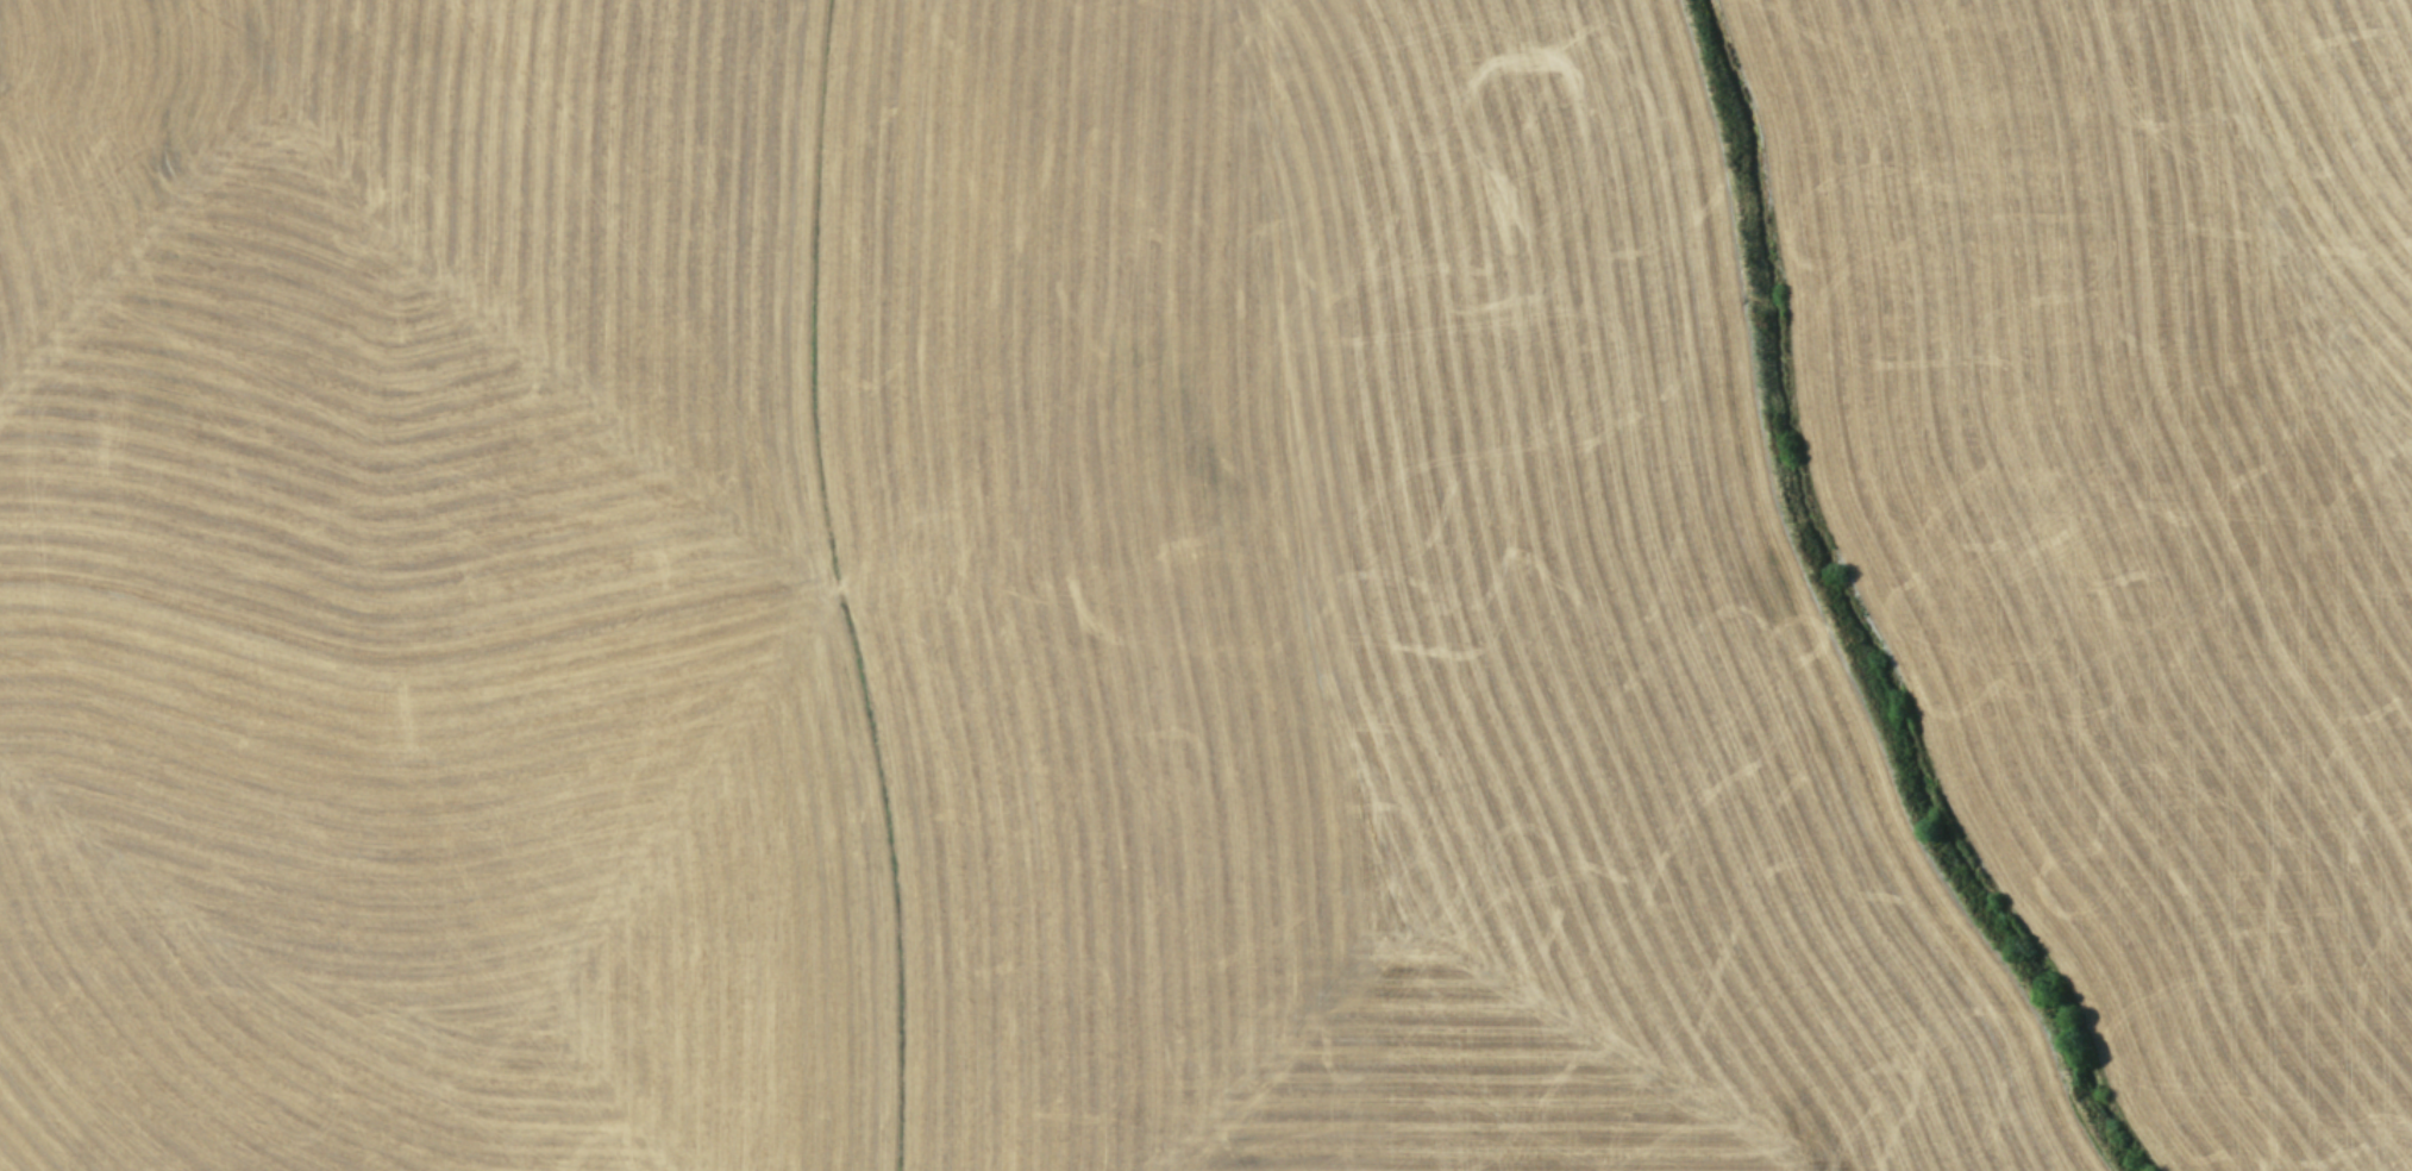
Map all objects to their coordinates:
crop: (1205, 585)

